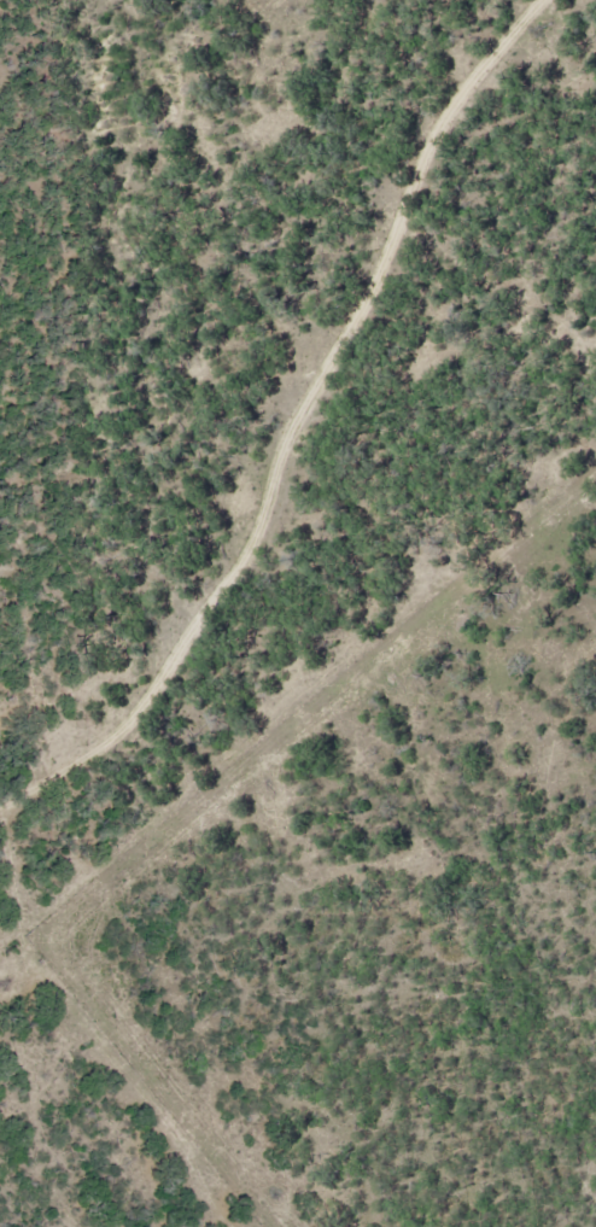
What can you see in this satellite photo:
road: (296, 428)

